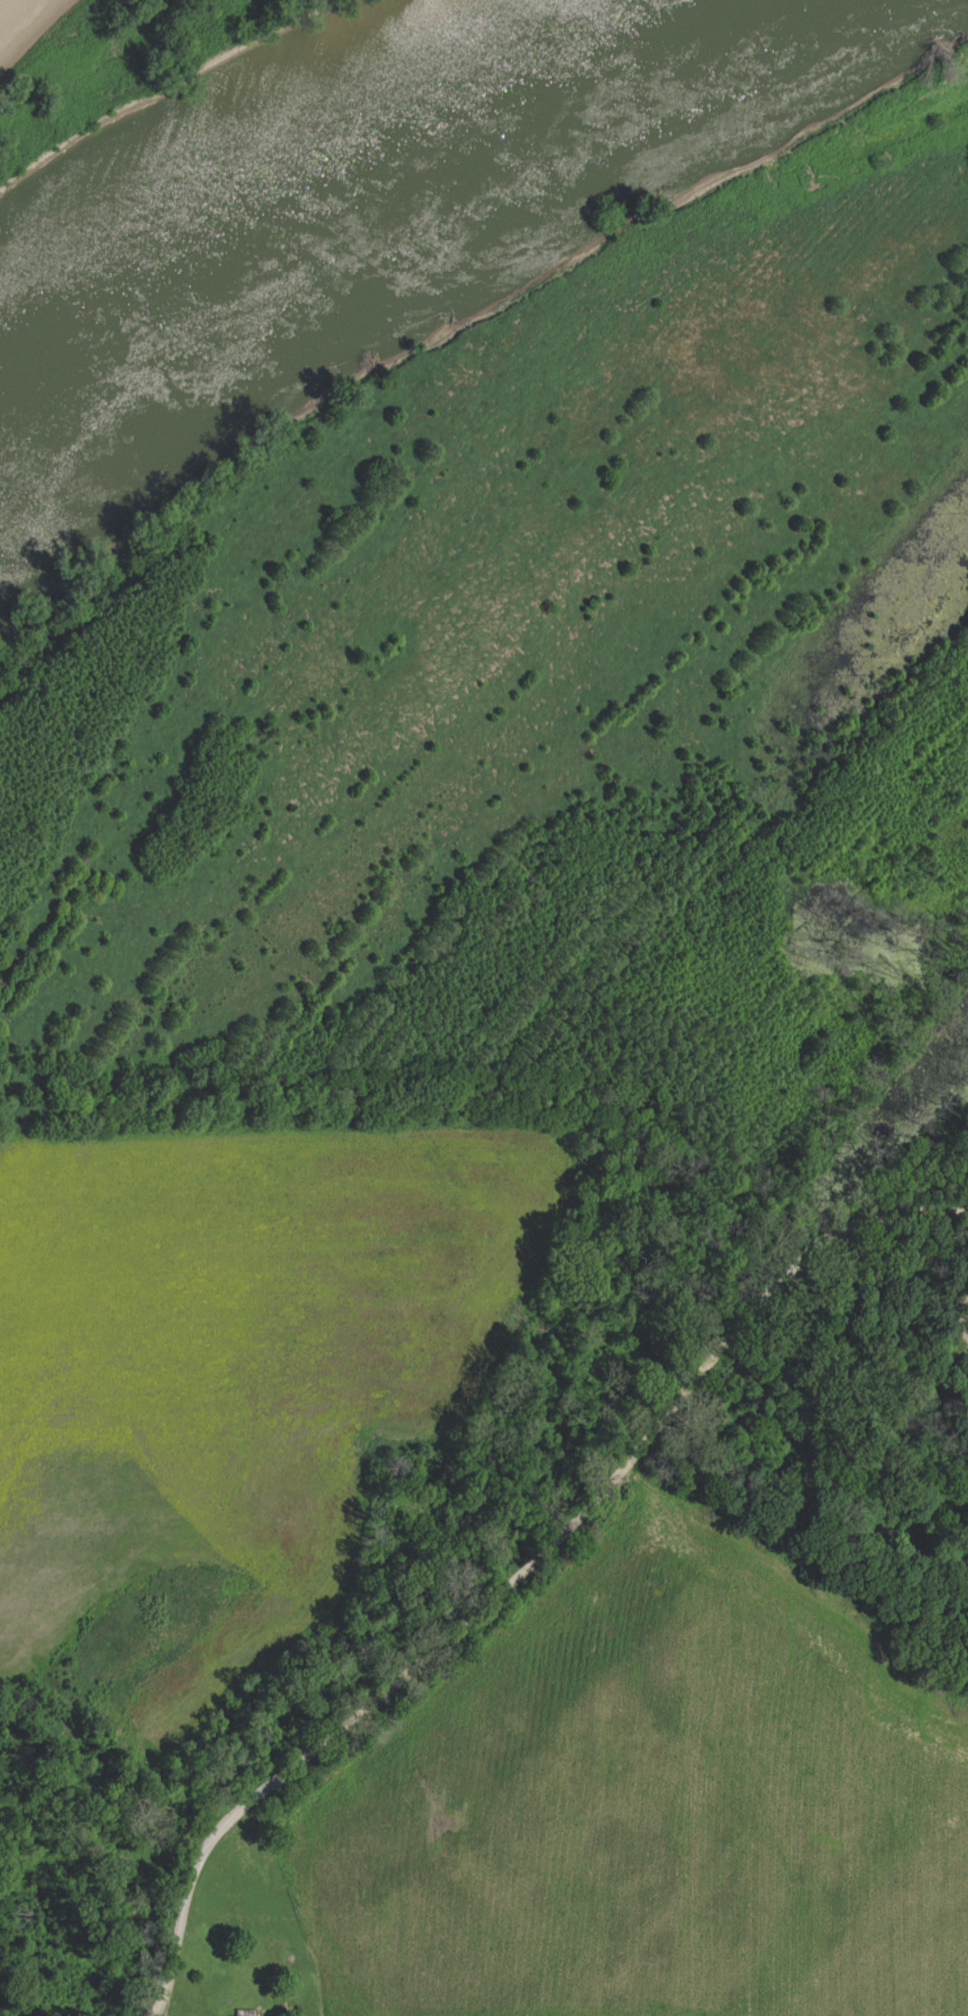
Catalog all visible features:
river: (355, 163)
road: (833, 1243)
building: (967, 1364)
road: (412, 1665)

